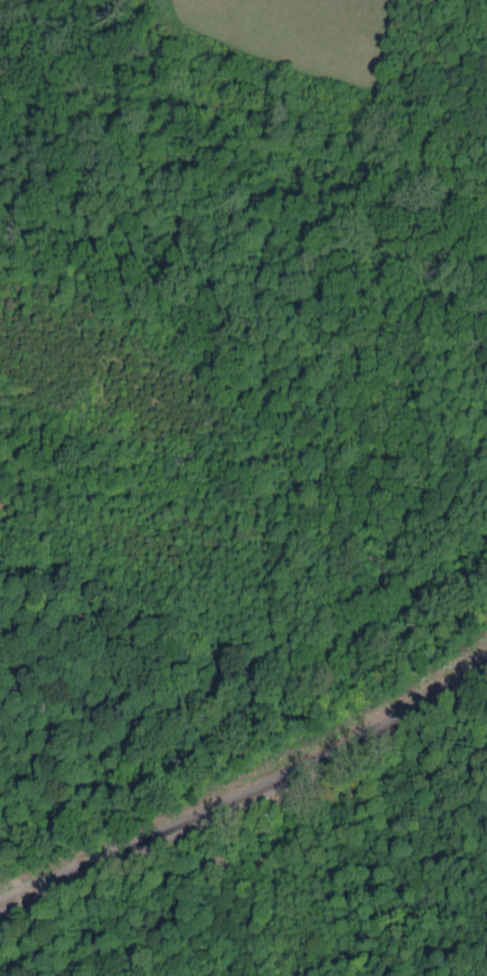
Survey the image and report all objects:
railway: (251, 794)

